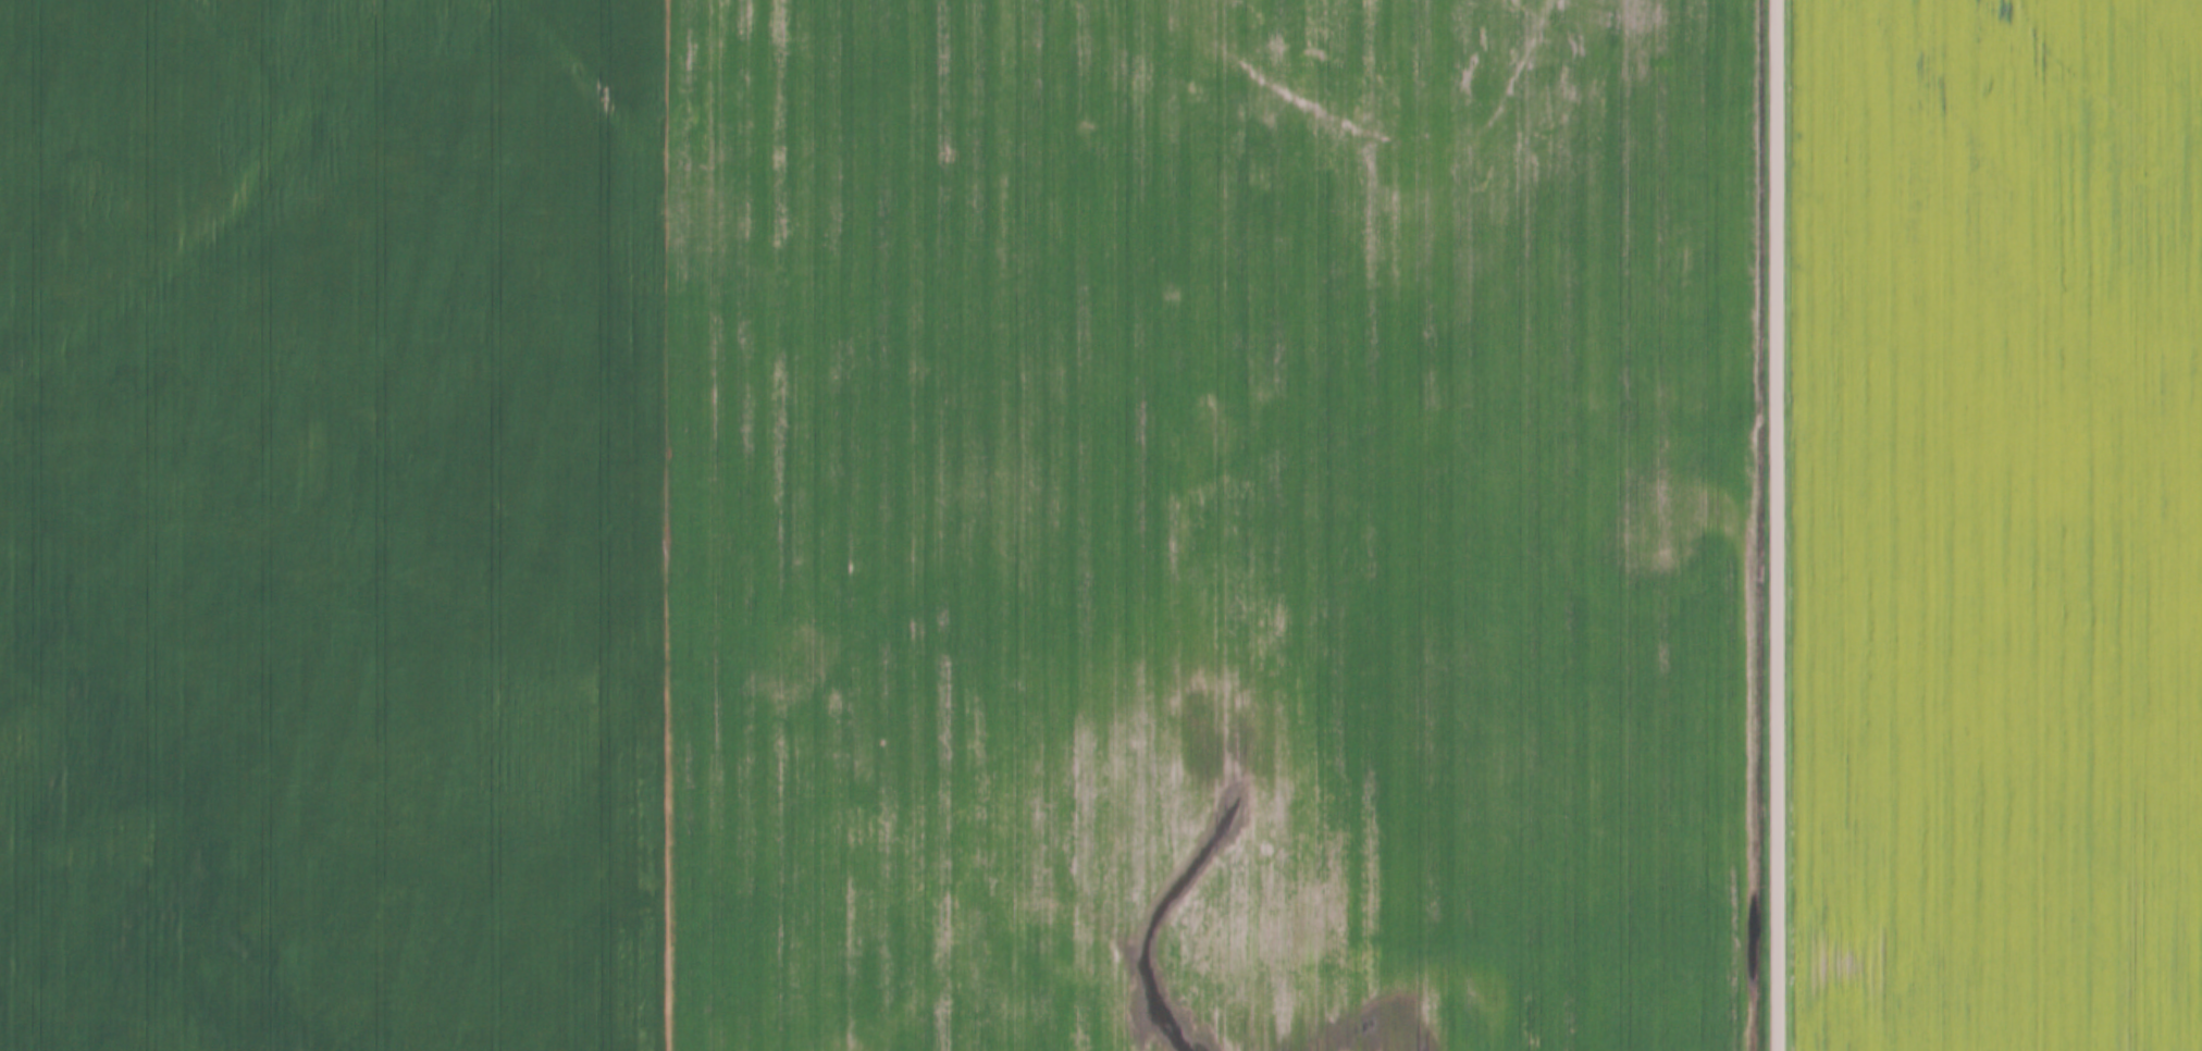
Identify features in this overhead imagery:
road: (1777, 525)

